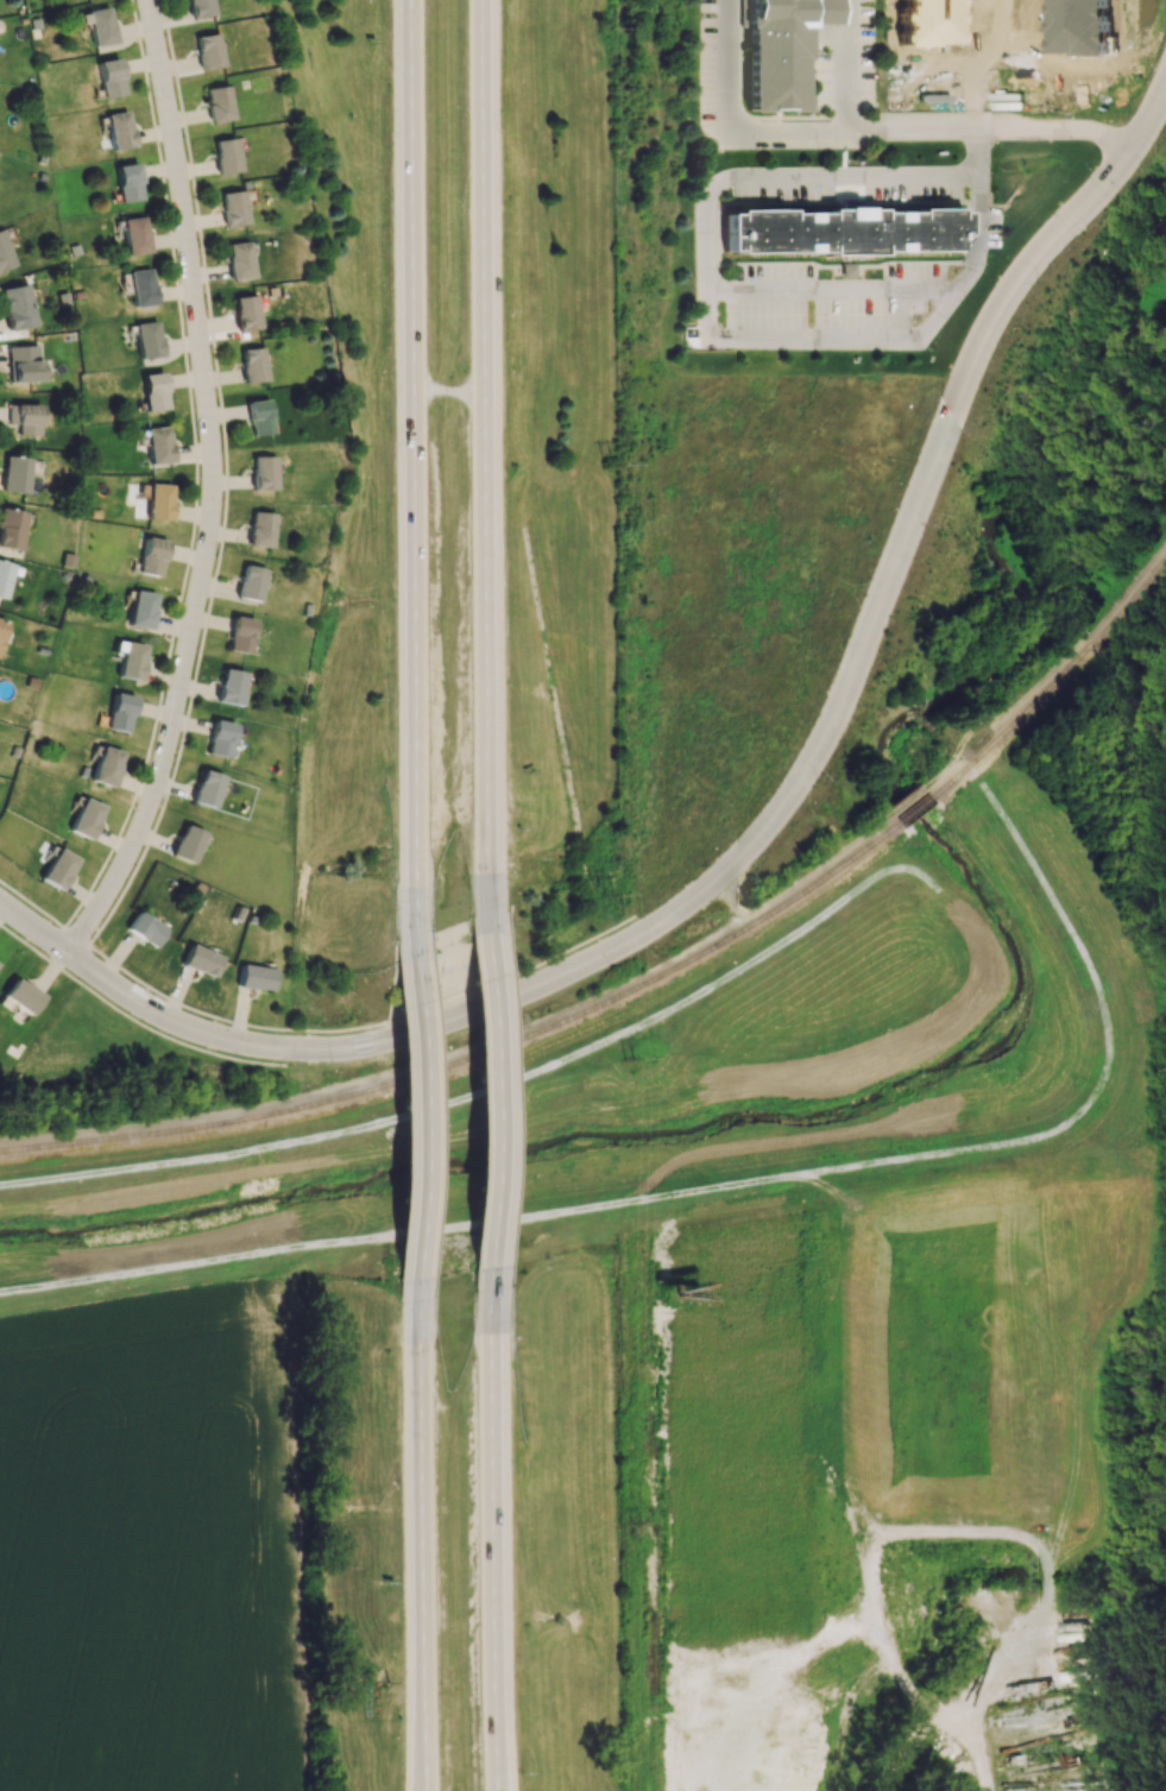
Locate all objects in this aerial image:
building: (200, 7)
building: (937, 21)
building: (99, 26)
power tower: (609, 26)
building: (1086, 26)
parking lot: (1013, 31)
road: (989, 37)
road: (1032, 37)
building: (208, 51)
building: (773, 56)
road: (845, 65)
road: (729, 67)
road: (1015, 75)
building: (108, 77)
parking lot: (931, 80)
parking lot: (1082, 80)
building: (218, 103)
building: (118, 130)
road: (937, 131)
road: (843, 153)
building: (225, 156)
building: (126, 182)
building: (233, 208)
building: (133, 234)
building: (840, 237)
building: (4, 253)
building: (239, 260)
building: (846, 270)
building: (139, 286)
road: (727, 296)
building: (15, 307)
building: (245, 313)
building: (146, 339)
building: (23, 364)
building: (252, 364)
building: (152, 391)
road: (450, 391)
building: (258, 417)
building: (24, 418)
building: (157, 444)
road: (414, 458)
road: (490, 460)
power tower: (612, 463)
building: (263, 472)
building: (14, 474)
road: (212, 488)
building: (158, 502)
building: (11, 528)
building: (259, 529)
road: (899, 550)
building: (151, 556)
building: (4, 576)
building: (250, 582)
building: (140, 608)
building: (1, 628)
building: (240, 633)
railway: (1058, 680)
building: (229, 687)
building: (119, 712)
building: (219, 738)
building: (105, 765)
building: (206, 788)
railway: (912, 809)
building: (84, 818)
building: (185, 844)
building: (57, 868)
building: (144, 928)
building: (200, 960)
building: (253, 977)
building: (20, 996)
road: (131, 1017)
road: (308, 1029)
road: (277, 1047)
railway: (468, 1054)
power tower: (635, 1058)
road: (472, 1093)
road: (491, 1093)
road: (422, 1102)
road: (733, 1185)
power tower: (638, 1516)
road: (494, 1527)
road: (423, 1540)
crop: (162, 1550)

